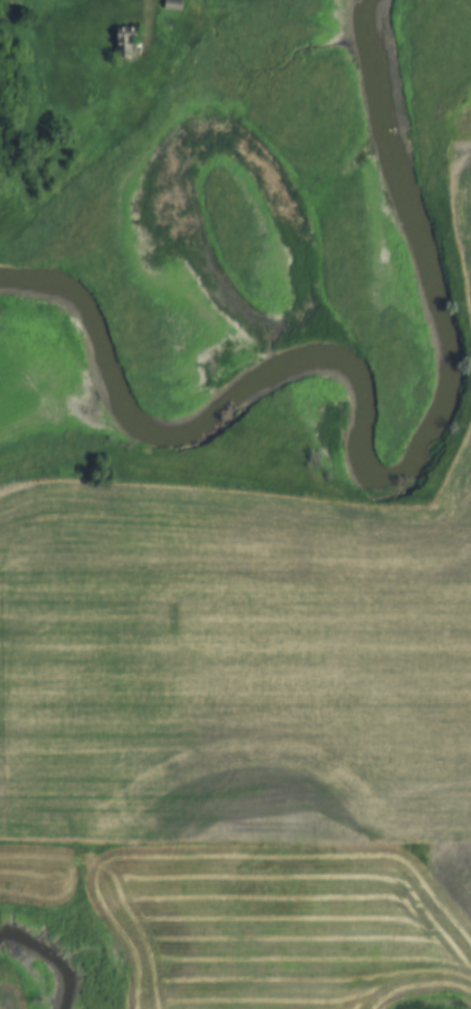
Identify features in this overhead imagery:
building: (169, 6)
road: (153, 16)
river: (366, 447)

